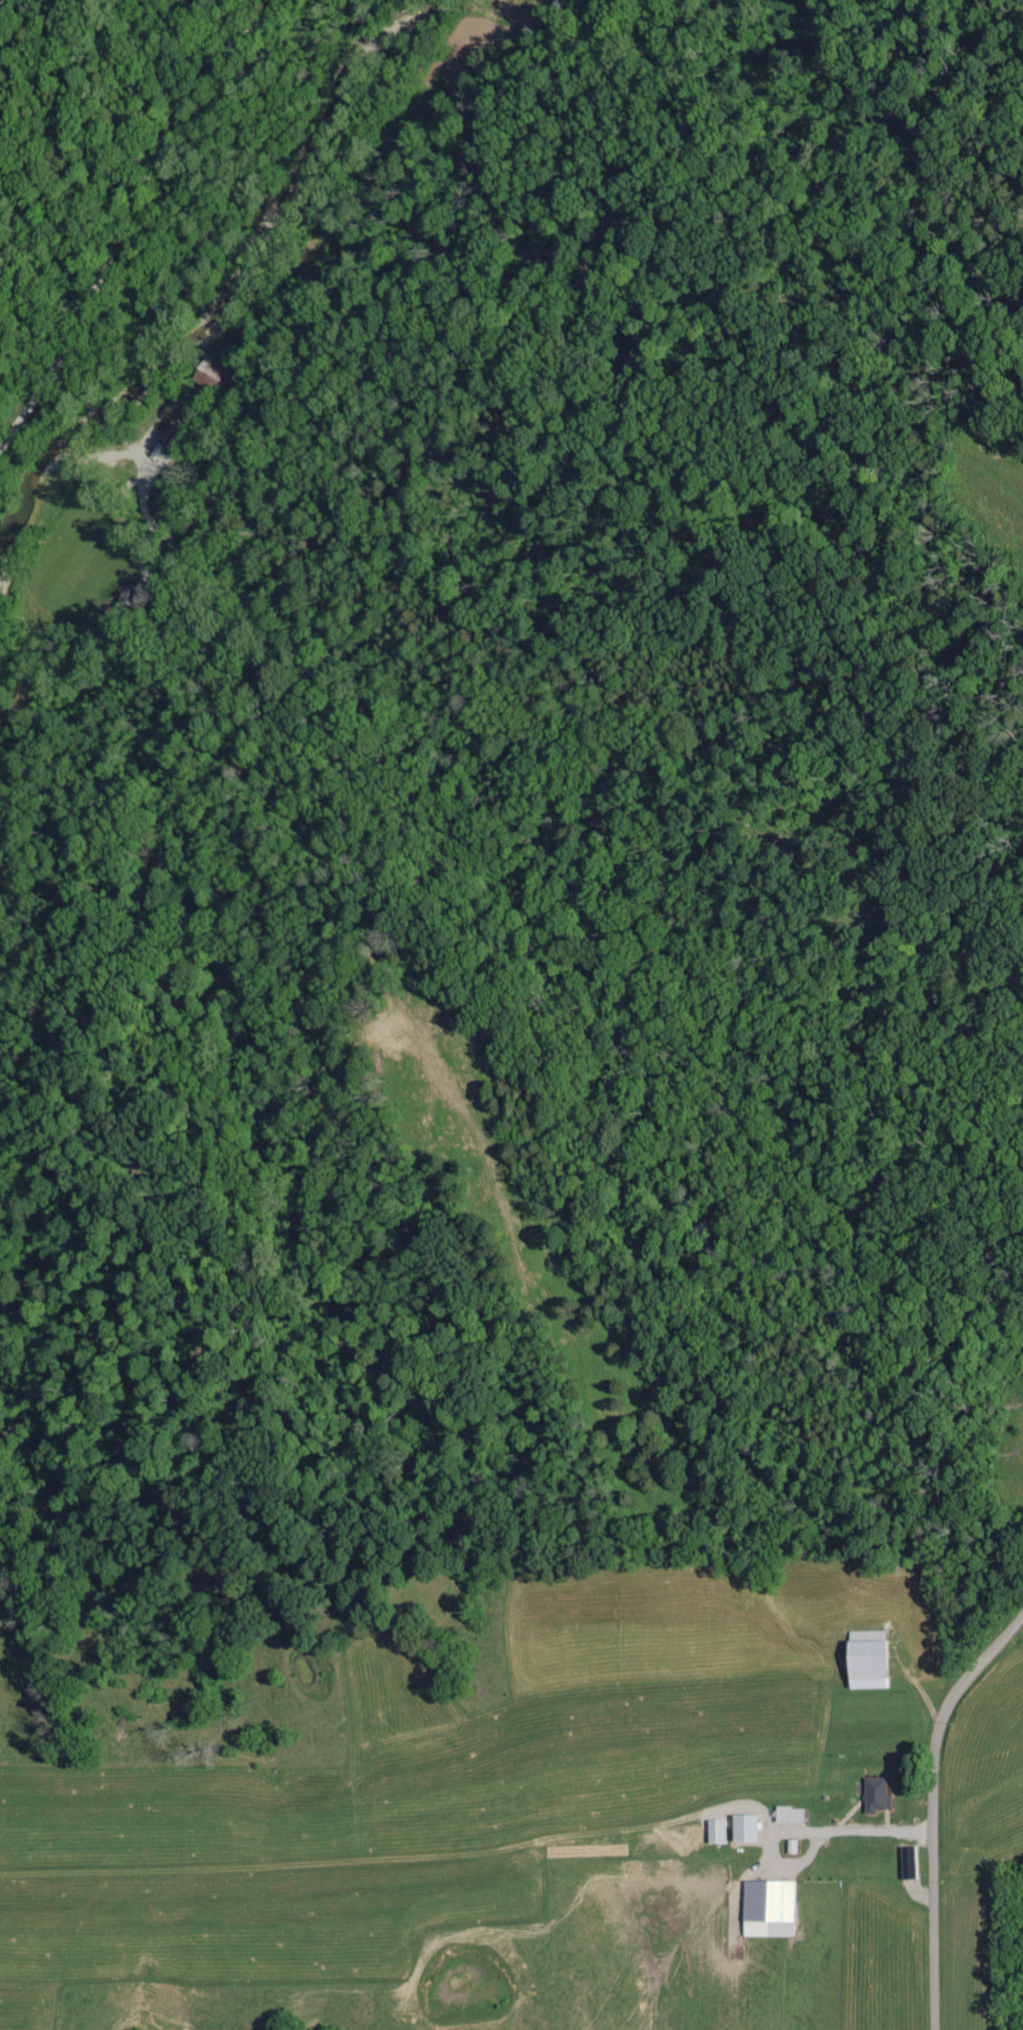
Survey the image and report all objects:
road: (138, 211)
building: (861, 1662)
building: (873, 1796)
road: (932, 1811)
building: (785, 1816)
building: (742, 1830)
road: (874, 1840)
road: (771, 1844)
building: (764, 1910)

